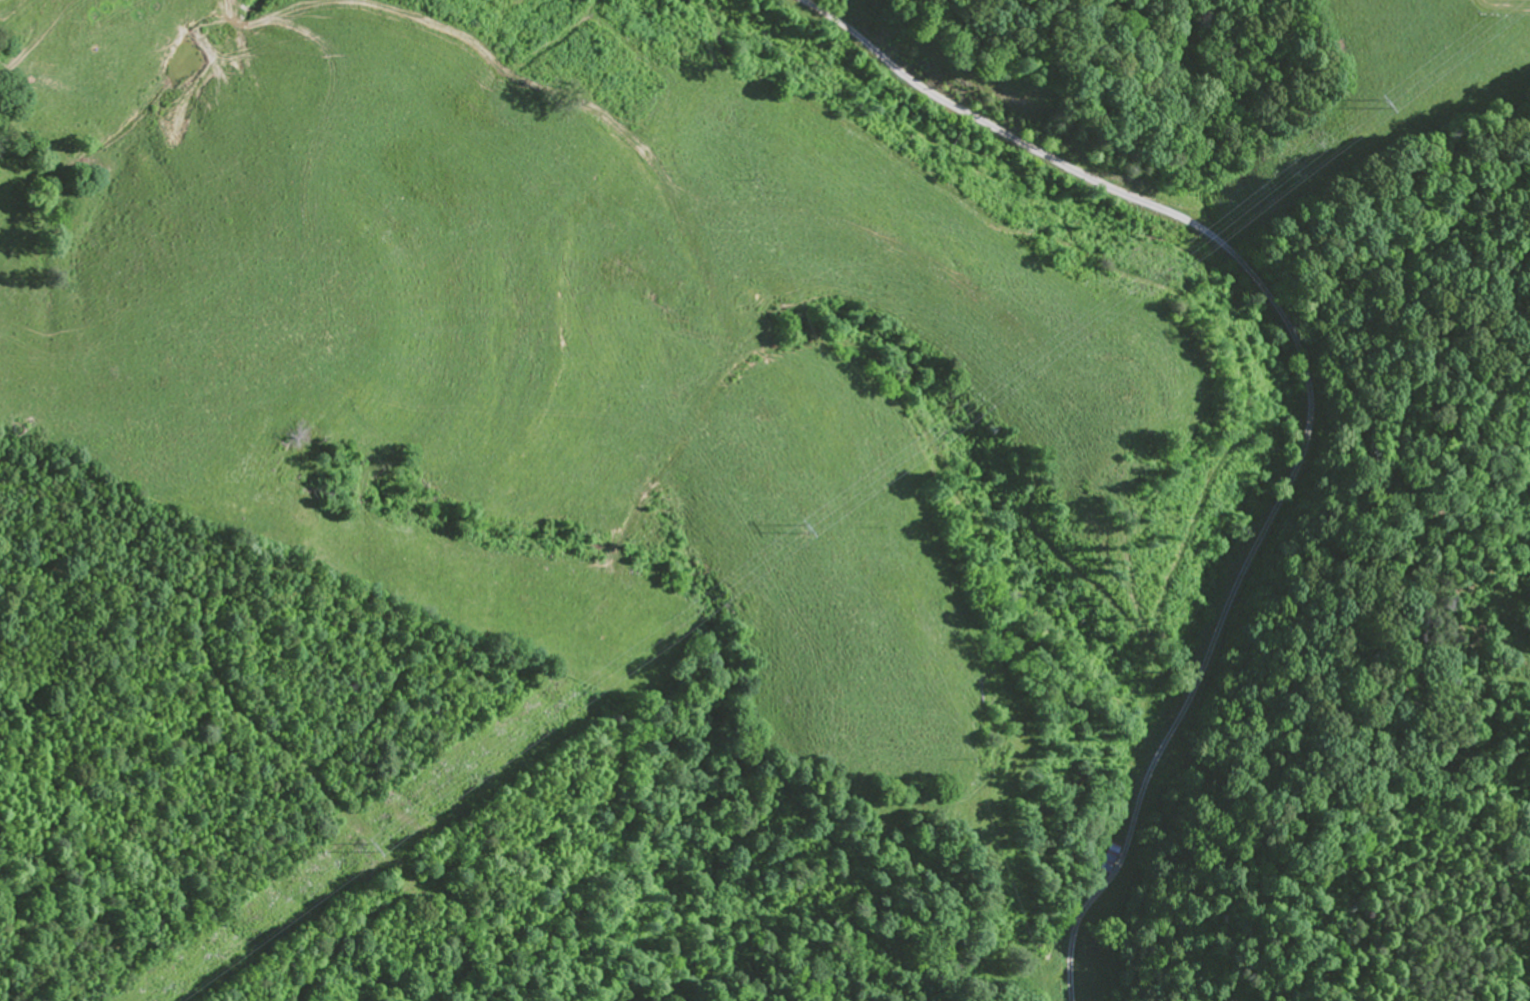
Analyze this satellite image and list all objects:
road: (967, 549)

